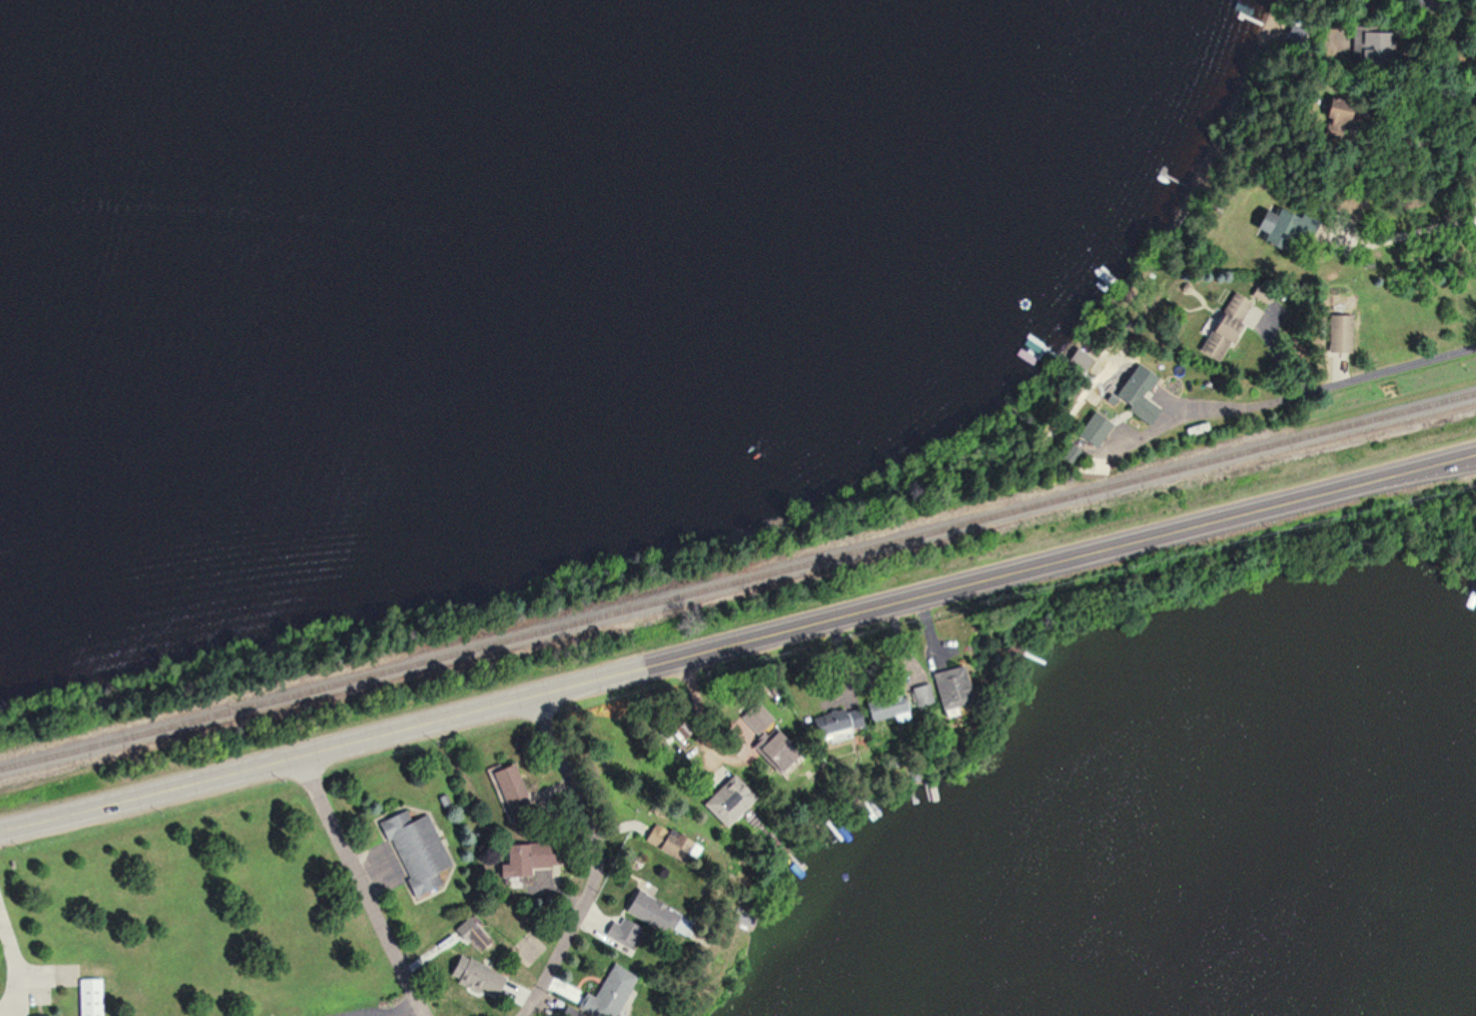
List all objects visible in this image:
road: (1431, 7)
road: (1403, 232)
building: (1222, 327)
building: (1335, 334)
road: (1298, 391)
building: (1133, 394)
building: (1088, 429)
railway: (738, 579)
road: (738, 643)
building: (945, 692)
building: (915, 696)
building: (883, 713)
building: (752, 718)
building: (837, 727)
road: (720, 744)
building: (768, 750)
building: (507, 791)
building: (723, 803)
building: (413, 851)
road: (594, 859)
building: (522, 860)
road: (360, 887)
building: (646, 910)
building: (468, 967)
road: (15, 973)
building: (587, 996)
building: (88, 998)
road: (405, 1009)

